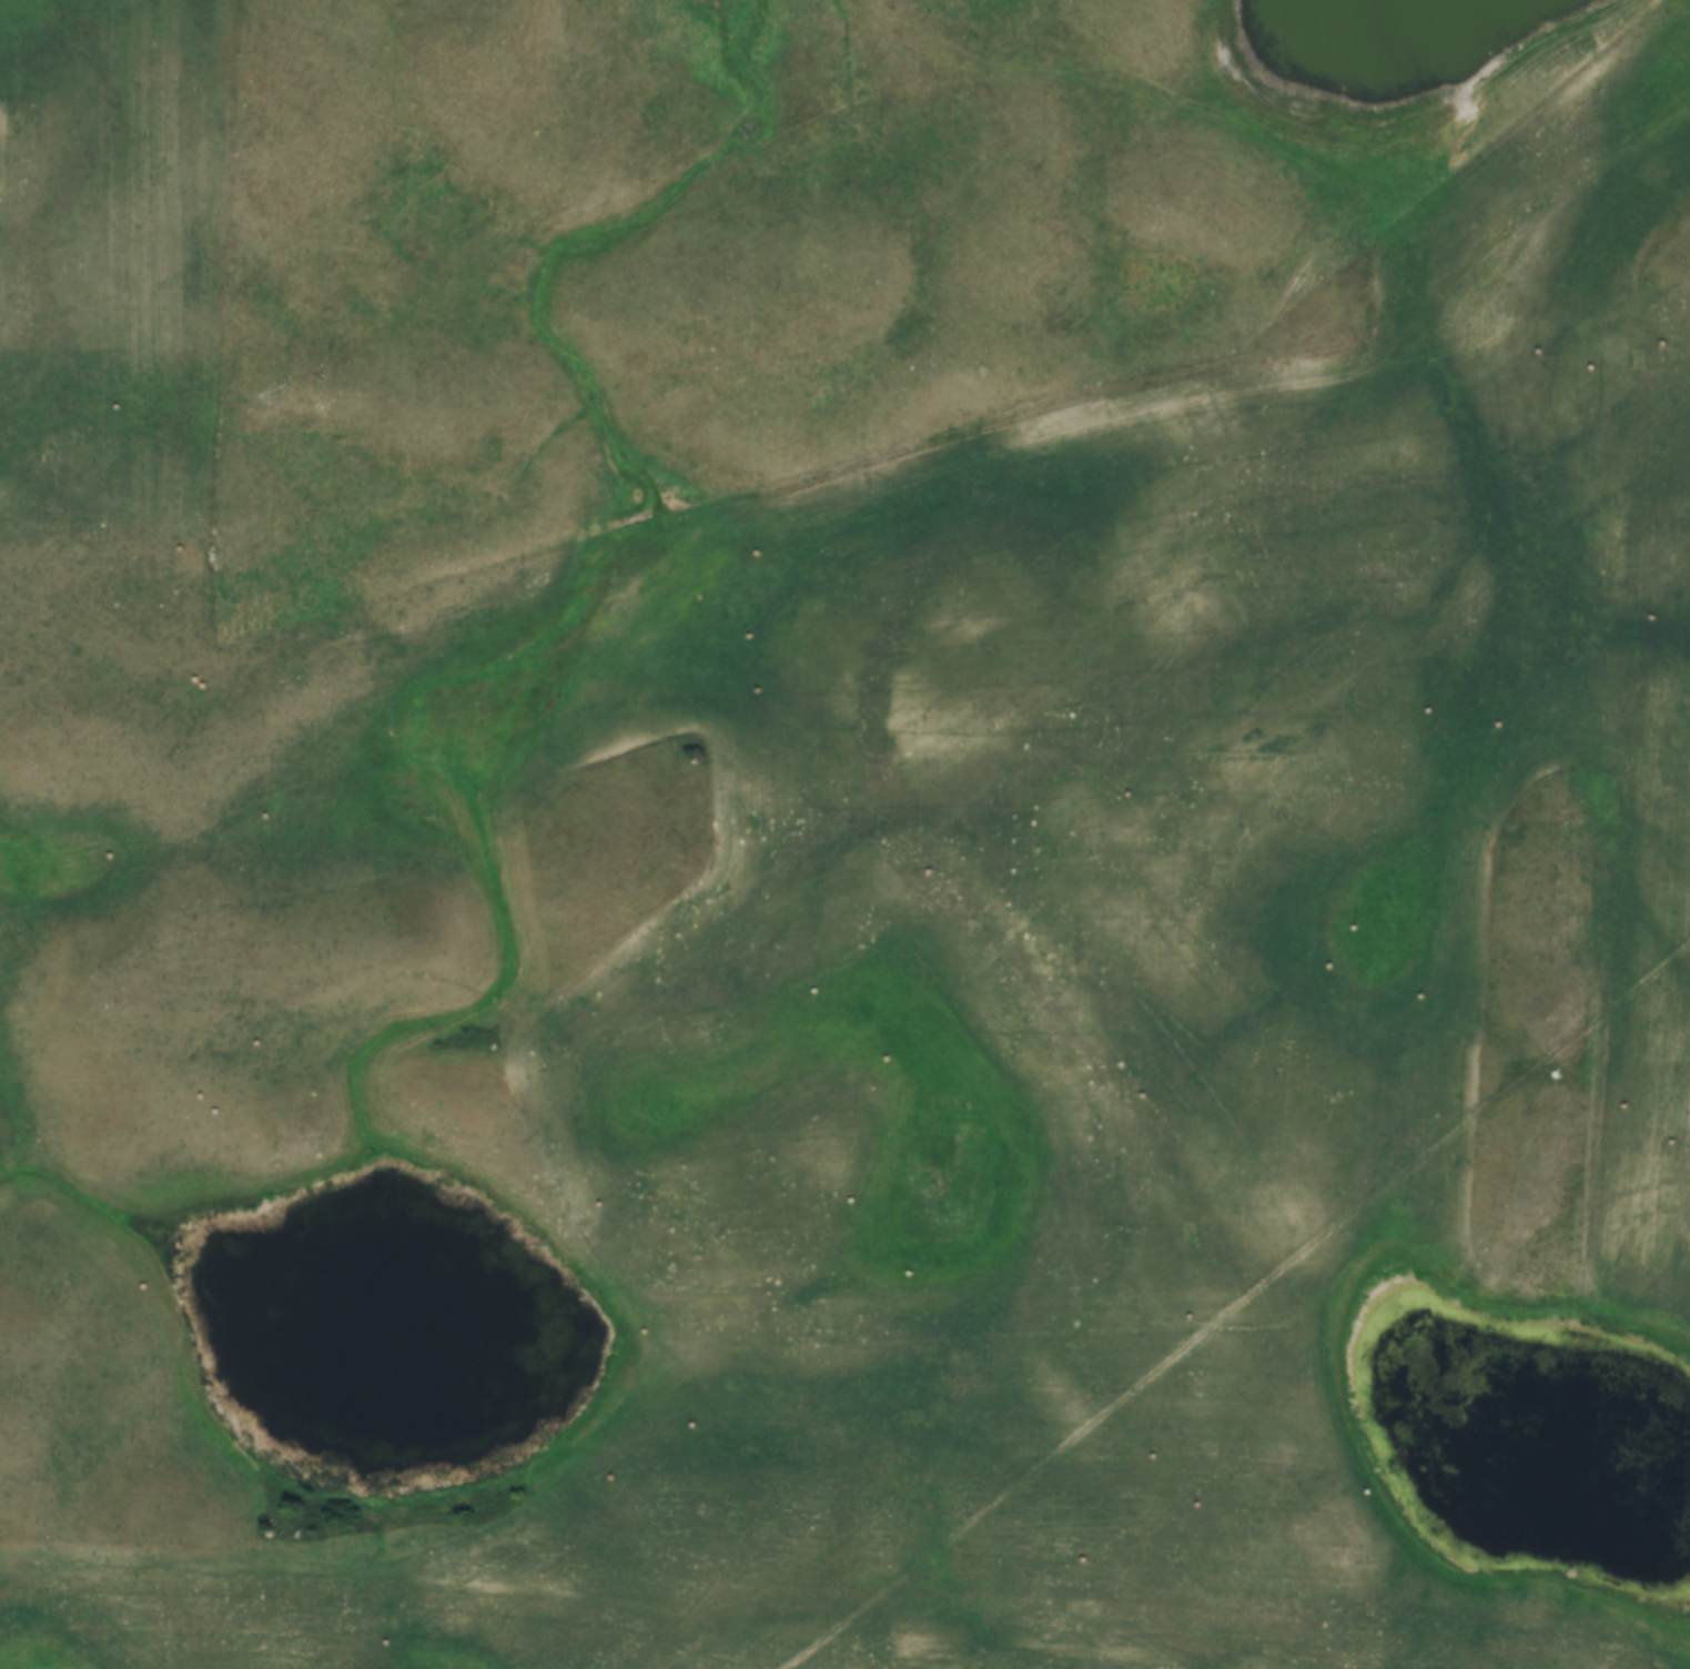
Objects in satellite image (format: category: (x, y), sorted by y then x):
road: (1558, 315)

